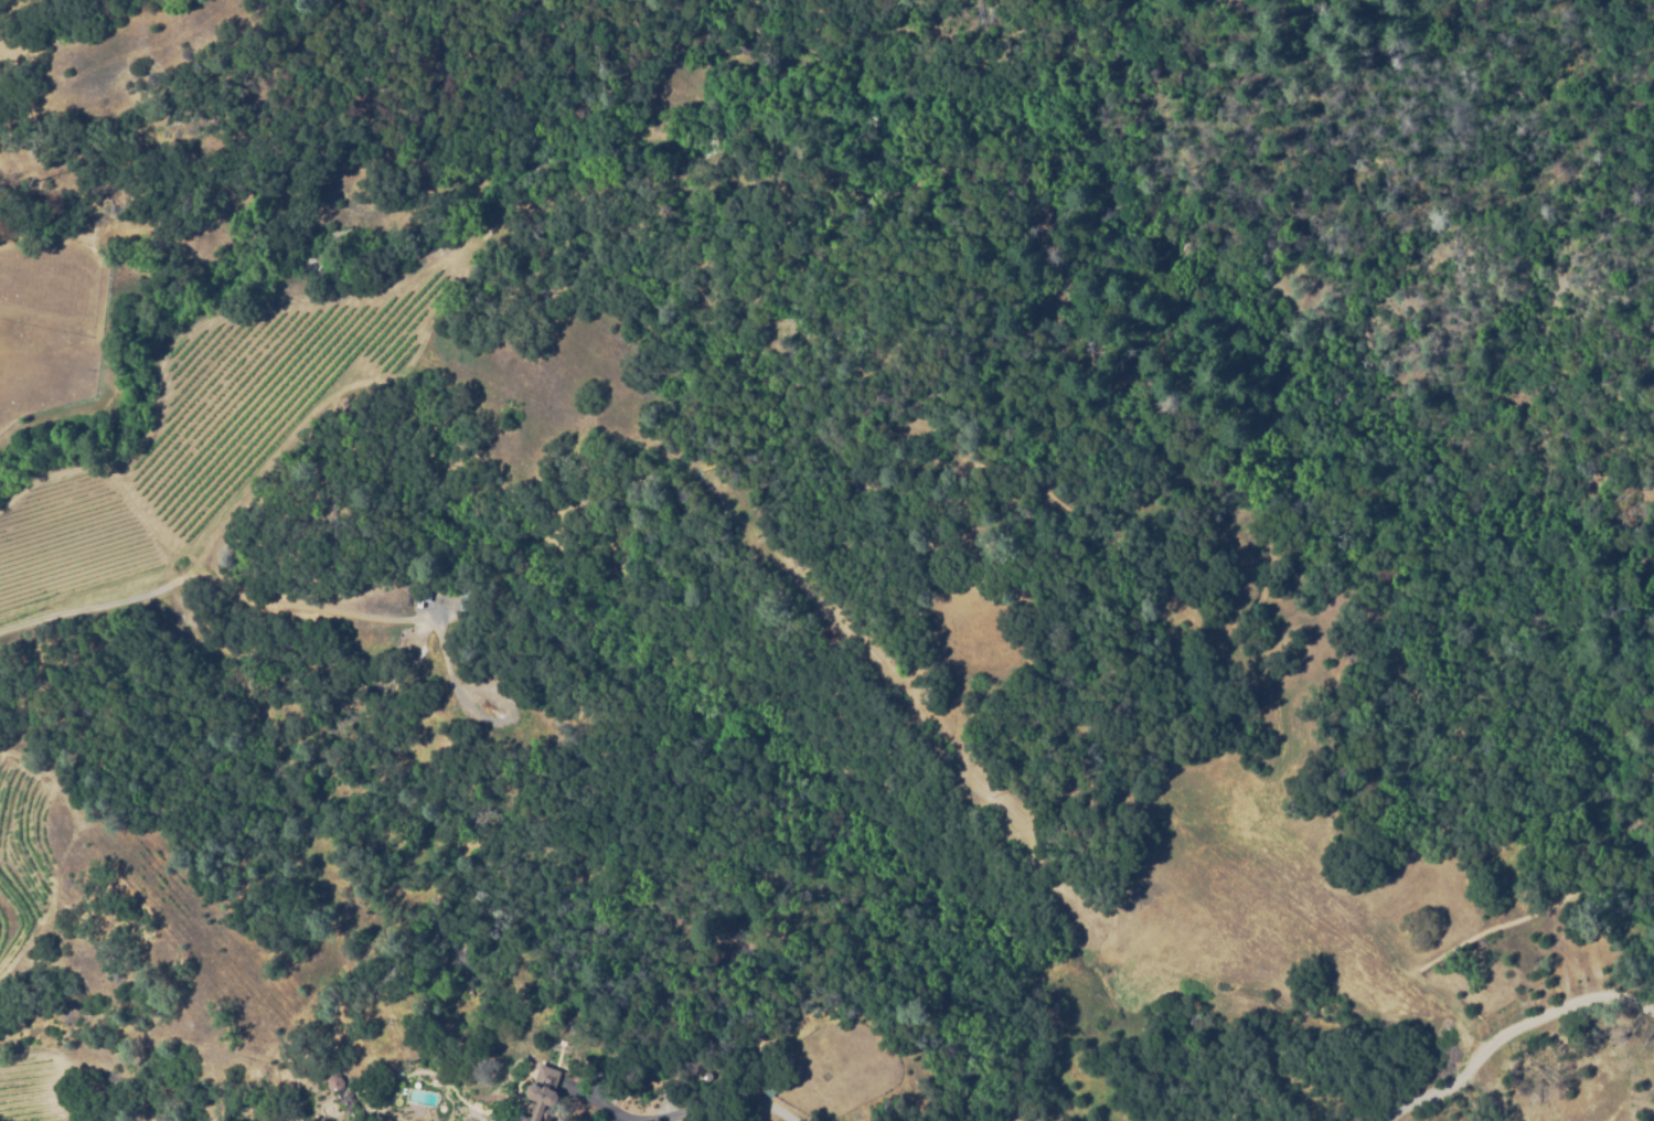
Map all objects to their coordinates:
building: (426, 591)
building: (418, 599)
building: (465, 602)
road: (1511, 1033)
building: (333, 1083)
building: (768, 1083)
building: (545, 1090)

